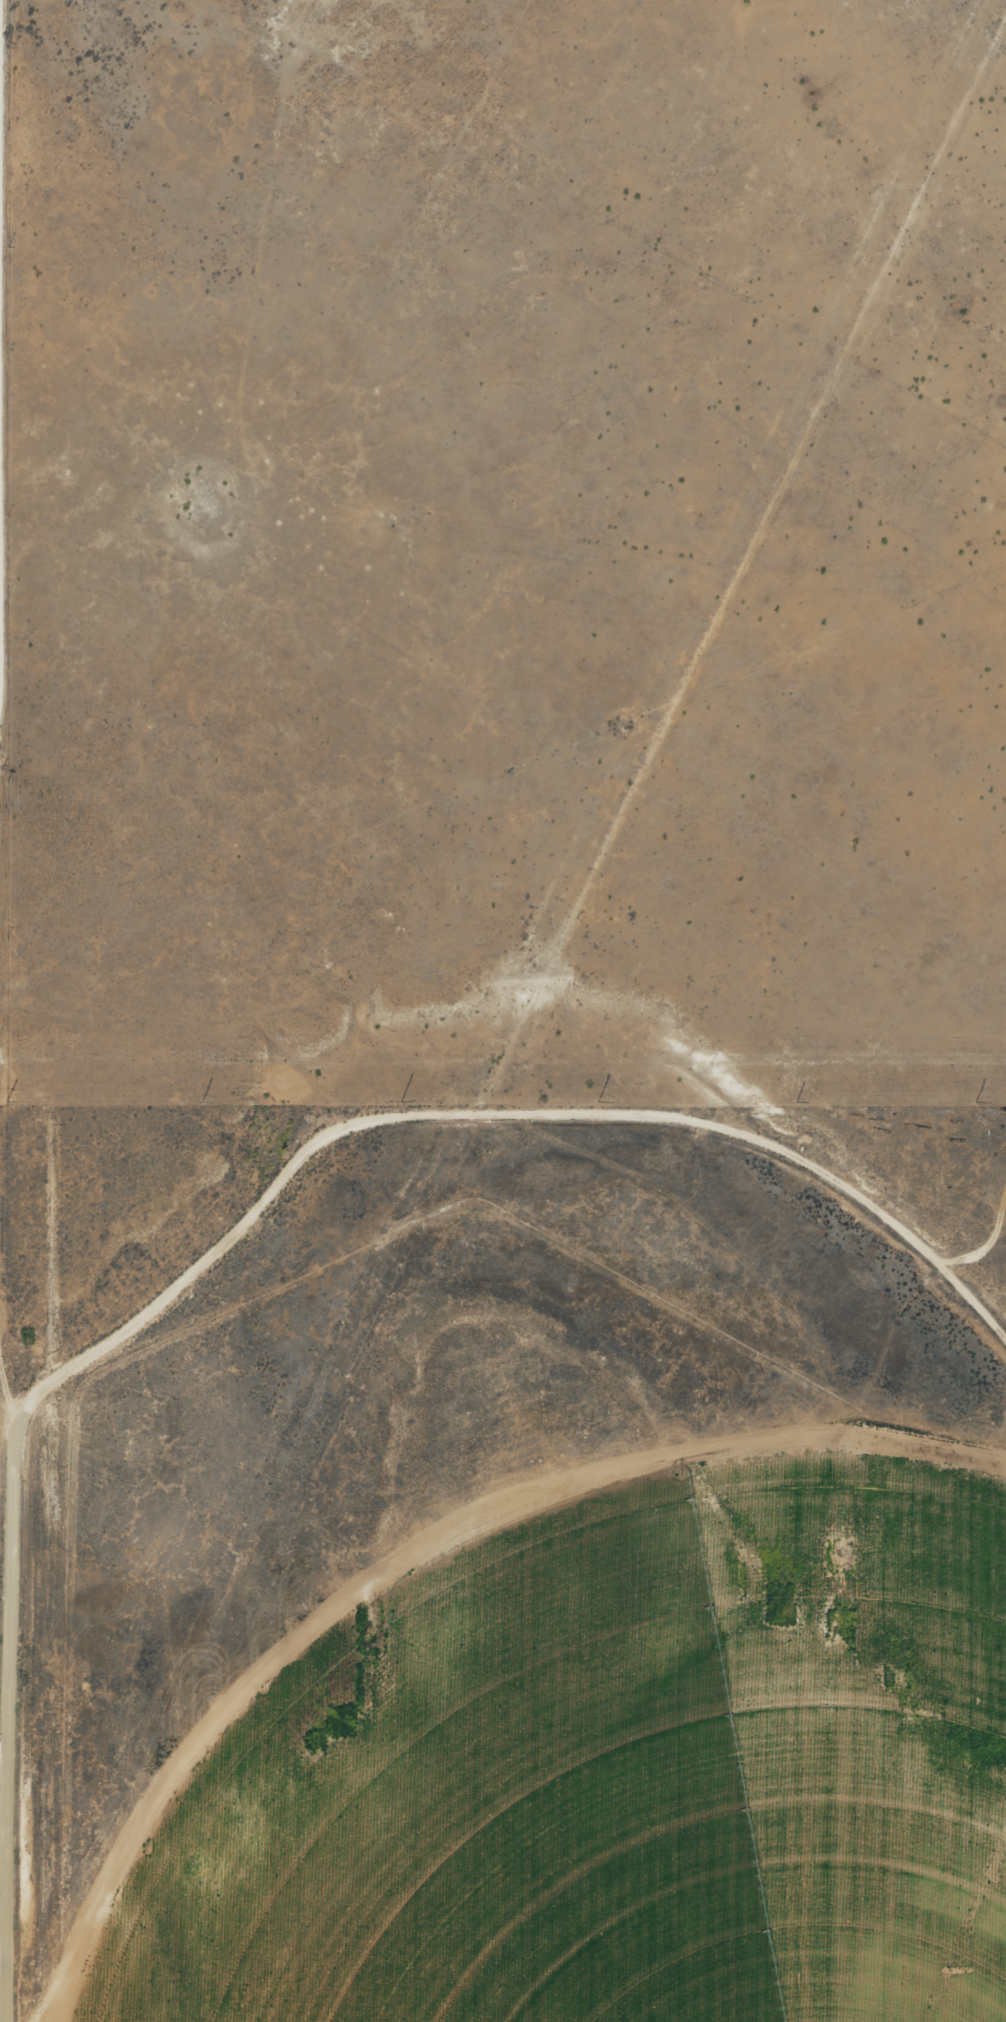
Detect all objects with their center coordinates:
road: (273, 208)
road: (12, 394)

